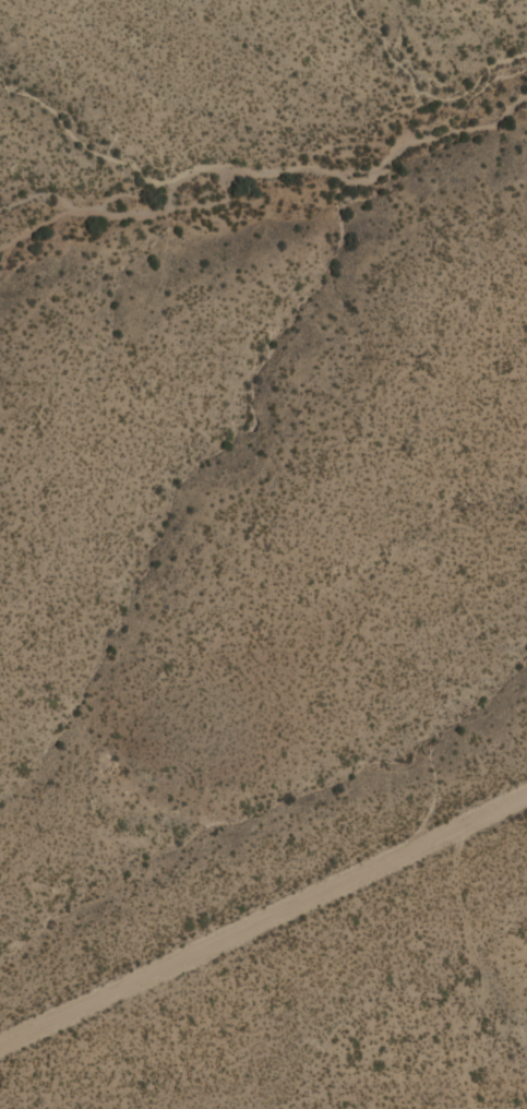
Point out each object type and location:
road: (263, 921)
road: (476, 971)

